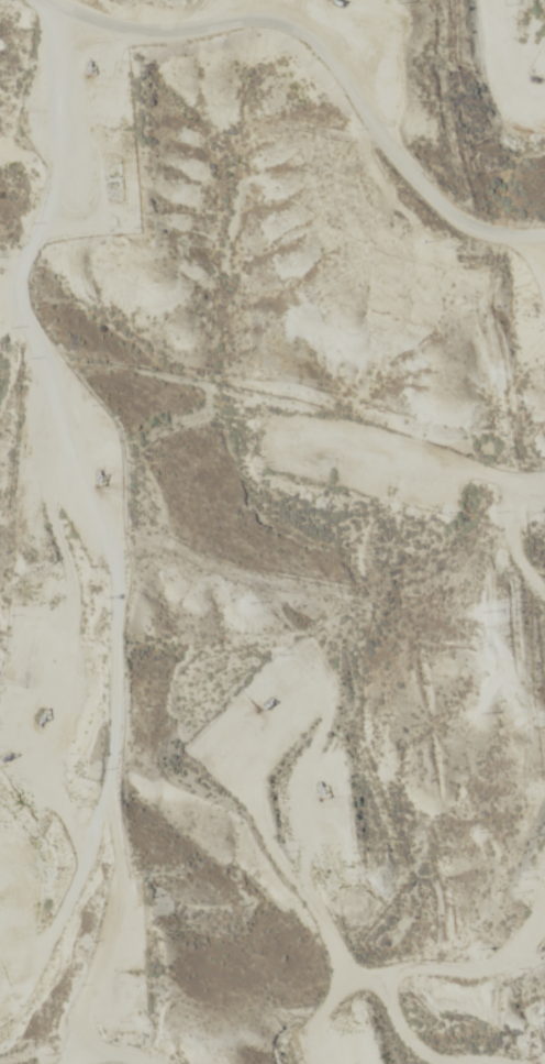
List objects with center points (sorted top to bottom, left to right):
road: (289, 17)
road: (312, 58)
road: (70, 124)
road: (178, 571)
road: (426, 922)
road: (120, 935)

